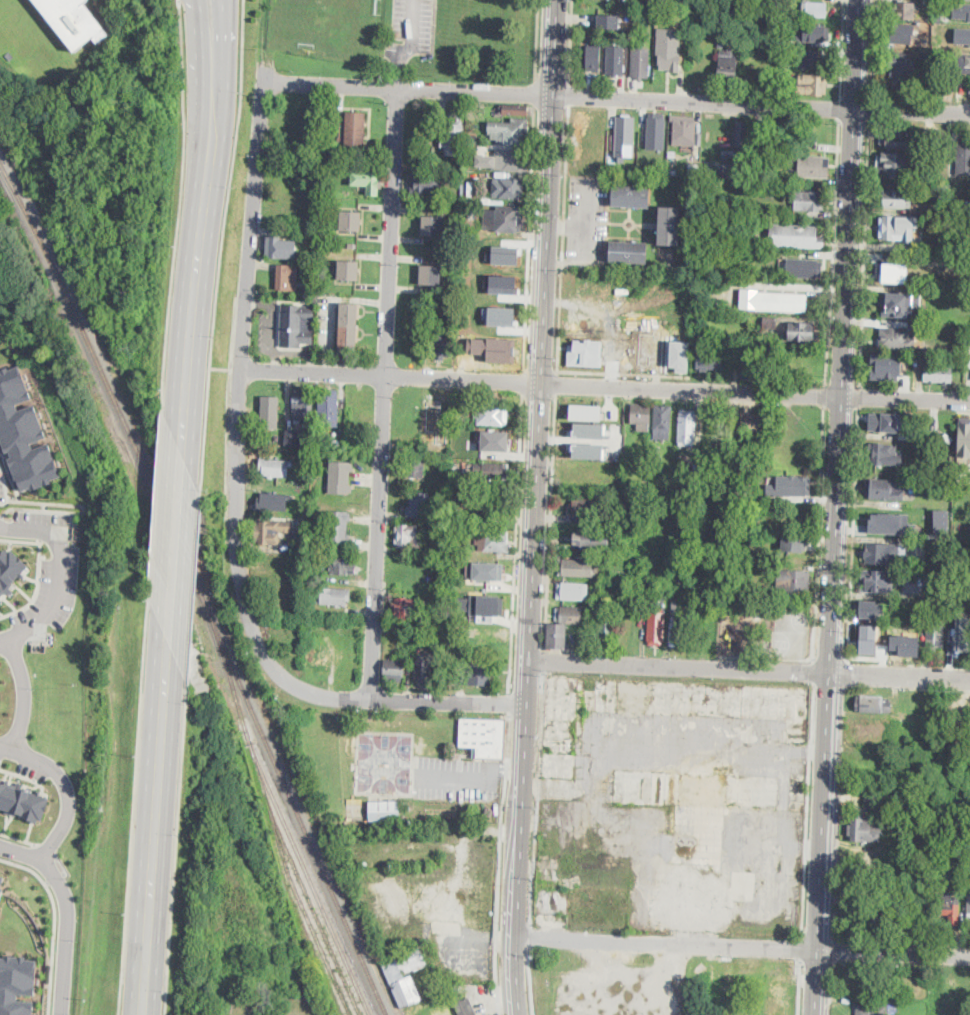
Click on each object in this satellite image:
building: (925, 2)
building: (657, 3)
building: (816, 9)
building: (906, 10)
building: (964, 11)
building: (796, 16)
building: (660, 17)
building: (607, 20)
building: (939, 20)
building: (73, 21)
parking lot: (413, 23)
road: (412, 24)
road: (210, 28)
road: (221, 28)
building: (938, 30)
building: (900, 34)
building: (814, 35)
building: (963, 39)
road: (537, 41)
building: (721, 42)
road: (570, 43)
road: (841, 48)
road: (873, 48)
building: (669, 51)
building: (594, 56)
building: (925, 56)
building: (810, 58)
building: (614, 59)
building: (640, 62)
building: (964, 64)
building: (728, 65)
building: (755, 65)
building: (775, 68)
building: (899, 68)
building: (787, 74)
building: (813, 84)
building: (945, 89)
road: (536, 94)
road: (570, 96)
road: (618, 96)
building: (515, 109)
road: (840, 109)
road: (870, 109)
building: (355, 130)
building: (511, 131)
building: (625, 131)
building: (657, 131)
building: (684, 132)
building: (776, 133)
building: (741, 134)
building: (897, 137)
building: (454, 138)
building: (473, 138)
building: (755, 138)
building: (672, 152)
building: (729, 152)
building: (963, 158)
building: (436, 159)
building: (509, 161)
building: (738, 165)
building: (894, 165)
building: (811, 166)
building: (694, 169)
building: (709, 170)
building: (673, 172)
building: (920, 175)
building: (367, 181)
road: (230, 183)
building: (426, 183)
building: (508, 189)
building: (630, 197)
building: (897, 199)
building: (942, 200)
building: (810, 201)
road: (178, 214)
building: (472, 215)
building: (503, 218)
building: (336, 220)
building: (350, 221)
road: (586, 222)
building: (433, 226)
building: (669, 226)
building: (896, 228)
building: (796, 236)
road: (531, 239)
road: (563, 239)
building: (466, 240)
road: (585, 240)
building: (351, 244)
building: (316, 246)
building: (280, 248)
building: (628, 252)
road: (835, 252)
road: (198, 255)
road: (866, 255)
building: (802, 267)
building: (334, 270)
building: (349, 271)
building: (894, 272)
building: (430, 275)
building: (287, 278)
building: (773, 301)
building: (900, 304)
building: (770, 322)
building: (296, 326)
building: (348, 326)
building: (802, 332)
road: (845, 335)
building: (898, 339)
building: (441, 343)
building: (494, 347)
building: (710, 358)
building: (913, 359)
road: (241, 362)
building: (750, 363)
building: (888, 365)
road: (541, 371)
building: (939, 373)
road: (632, 374)
road: (524, 381)
road: (556, 382)
road: (605, 386)
road: (539, 392)
road: (383, 393)
road: (825, 395)
road: (860, 398)
building: (304, 404)
building: (329, 407)
building: (269, 411)
building: (585, 411)
building: (491, 414)
building: (641, 417)
building: (662, 422)
building: (750, 422)
road: (227, 423)
building: (884, 423)
road: (205, 425)
building: (686, 425)
park: (939, 428)
building: (589, 430)
building: (23, 432)
building: (964, 437)
building: (294, 438)
building: (948, 439)
building: (495, 440)
building: (310, 441)
road: (538, 445)
building: (586, 450)
building: (886, 455)
building: (931, 461)
building: (275, 467)
building: (416, 468)
building: (492, 470)
building: (734, 475)
building: (341, 477)
building: (794, 486)
building: (885, 490)
building: (273, 501)
building: (489, 504)
building: (419, 505)
building: (586, 507)
road: (155, 513)
building: (794, 517)
building: (941, 520)
road: (552, 522)
building: (892, 523)
building: (338, 527)
building: (268, 531)
road: (854, 534)
building: (410, 536)
building: (440, 539)
building: (593, 539)
building: (492, 541)
road: (517, 541)
building: (793, 543)
building: (948, 544)
building: (302, 546)
road: (175, 548)
building: (882, 554)
building: (344, 565)
building: (442, 568)
building: (577, 568)
building: (10, 569)
road: (37, 570)
building: (491, 571)
road: (59, 575)
building: (794, 580)
road: (818, 581)
road: (193, 582)
building: (877, 582)
railway: (196, 586)
building: (470, 588)
building: (756, 590)
building: (573, 591)
building: (596, 594)
building: (335, 596)
building: (0, 599)
building: (488, 603)
building: (406, 608)
building: (871, 609)
building: (571, 616)
building: (657, 627)
building: (676, 627)
building: (606, 628)
park: (765, 629)
building: (312, 630)
building: (934, 634)
building: (557, 636)
building: (868, 638)
building: (482, 641)
building: (961, 643)
building: (320, 659)
road: (544, 660)
road: (832, 660)
building: (455, 666)
road: (679, 666)
building: (423, 668)
building: (395, 669)
road: (814, 671)
building: (479, 675)
road: (900, 675)
road: (24, 695)
road: (380, 698)
road: (509, 703)
building: (874, 704)
building: (953, 731)
building: (484, 737)
building: (244, 753)
road: (504, 771)
road: (22, 775)
road: (452, 775)
parking lot: (457, 777)
road: (64, 787)
road: (538, 797)
building: (22, 801)
building: (875, 801)
road: (134, 806)
road: (807, 808)
building: (384, 809)
road: (825, 812)
road: (155, 828)
building: (864, 831)
road: (18, 837)
road: (175, 847)
road: (47, 848)
building: (899, 856)
building: (863, 860)
road: (499, 864)
road: (63, 865)
road: (24, 866)
road: (54, 877)
building: (967, 879)
building: (1, 885)
building: (968, 907)
road: (66, 911)
building: (952, 911)
building: (864, 913)
road: (530, 936)
road: (667, 944)
road: (53, 947)
road: (801, 947)
road: (514, 952)
road: (894, 955)
building: (777, 968)
building: (396, 976)
building: (721, 978)
road: (530, 982)
road: (818, 983)
building: (17, 984)
road: (799, 988)
building: (776, 989)
building: (740, 990)
building: (466, 1007)
building: (777, 1008)
building: (739, 1010)
building: (871, 1010)

